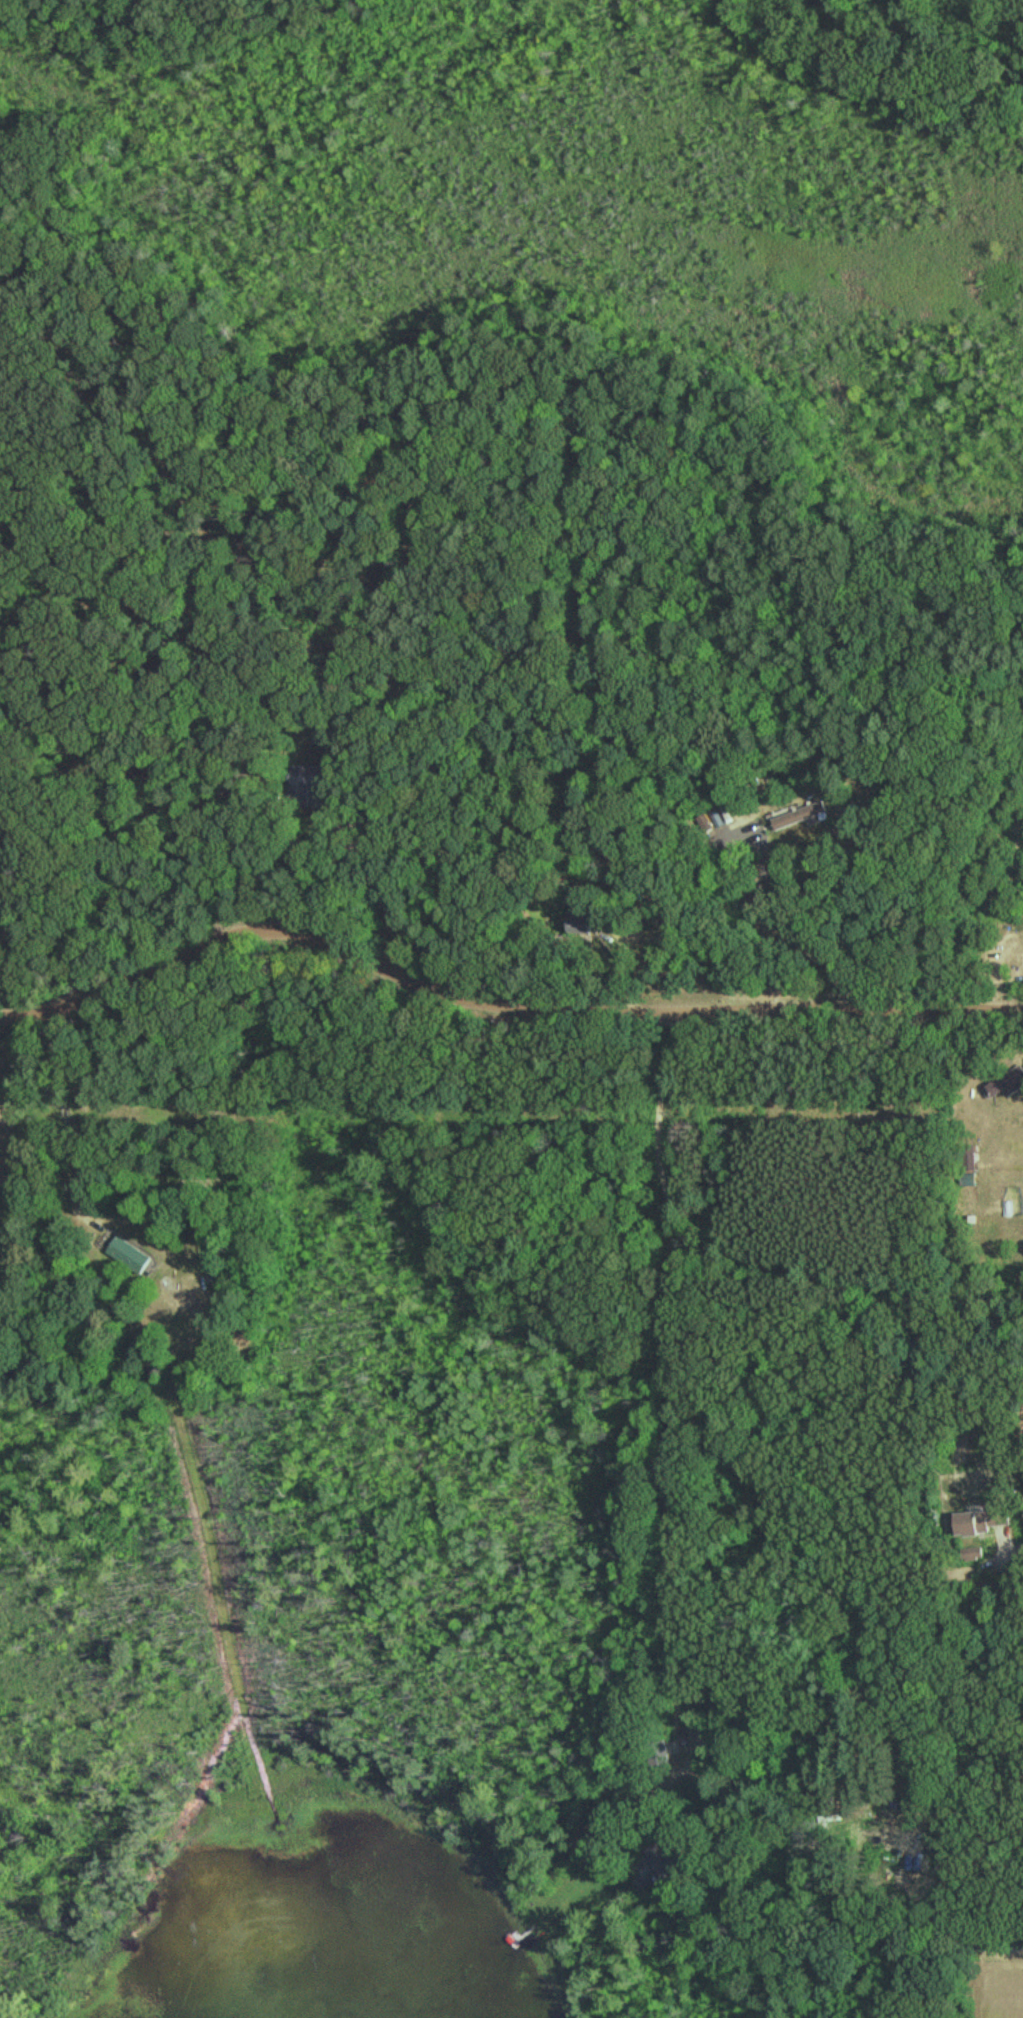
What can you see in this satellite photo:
building: (311, 778)
building: (809, 817)
road: (393, 891)
road: (787, 926)
road: (668, 951)
road: (1006, 962)
road: (495, 994)
road: (658, 1151)
road: (716, 1212)
building: (130, 1257)
building: (986, 1522)
road: (1014, 1552)
building: (975, 1555)
building: (707, 1741)
building: (889, 1842)
building: (659, 1868)
building: (3, 2014)

